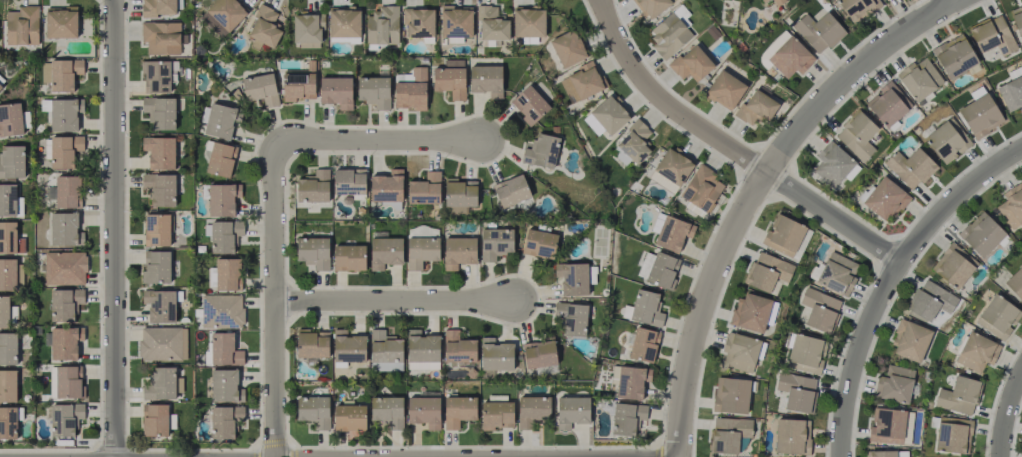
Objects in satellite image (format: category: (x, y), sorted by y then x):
building: (762, 0)
building: (885, 0)
building: (778, 2)
building: (157, 7)
building: (652, 7)
building: (858, 8)
building: (225, 14)
building: (1017, 20)
building: (61, 22)
building: (344, 22)
building: (418, 22)
building: (528, 22)
building: (456, 24)
building: (491, 24)
building: (22, 26)
building: (382, 26)
building: (264, 28)
building: (307, 30)
building: (818, 31)
building: (669, 35)
building: (992, 35)
building: (161, 37)
building: (568, 48)
building: (771, 49)
building: (954, 56)
building: (791, 58)
building: (691, 64)
building: (61, 73)
building: (156, 77)
building: (450, 78)
building: (919, 78)
building: (486, 80)
building: (581, 82)
building: (0, 86)
building: (298, 86)
building: (260, 89)
building: (410, 89)
building: (725, 89)
building: (374, 91)
building: (336, 92)
building: (1011, 93)
building: (529, 104)
building: (887, 105)
building: (756, 107)
building: (159, 112)
building: (65, 114)
building: (980, 115)
building: (606, 116)
building: (10, 119)
building: (219, 121)
building: (857, 135)
road: (376, 140)
building: (946, 142)
building: (631, 145)
road: (731, 148)
building: (64, 150)
building: (541, 151)
building: (159, 152)
building: (221, 159)
building: (12, 162)
building: (832, 164)
building: (910, 167)
building: (670, 170)
building: (349, 181)
building: (386, 186)
building: (313, 187)
building: (160, 188)
building: (701, 188)
building: (424, 189)
building: (511, 190)
building: (68, 191)
road: (752, 191)
building: (460, 194)
building: (222, 199)
building: (885, 199)
building: (7, 200)
building: (1012, 206)
road: (114, 228)
building: (65, 229)
building: (157, 230)
building: (671, 232)
building: (981, 234)
building: (224, 235)
building: (783, 235)
building: (10, 239)
building: (496, 243)
building: (539, 244)
building: (421, 251)
building: (313, 252)
building: (385, 252)
building: (458, 252)
building: (349, 258)
building: (953, 266)
building: (156, 267)
building: (65, 268)
building: (662, 270)
building: (768, 273)
building: (7, 274)
building: (228, 274)
building: (838, 274)
building: (572, 278)
road: (891, 279)
building: (1015, 283)
road: (274, 299)
road: (391, 300)
building: (930, 301)
building: (65, 304)
building: (160, 305)
building: (646, 308)
building: (819, 310)
building: (4, 311)
building: (222, 311)
building: (750, 312)
building: (998, 316)
building: (572, 318)
building: (910, 341)
building: (65, 342)
building: (163, 343)
building: (312, 344)
building: (643, 344)
building: (8, 348)
building: (348, 348)
building: (458, 348)
building: (224, 350)
building: (385, 351)
building: (422, 351)
building: (740, 351)
building: (806, 352)
building: (977, 352)
building: (539, 353)
building: (496, 355)
building: (629, 381)
building: (65, 382)
building: (160, 384)
building: (895, 384)
building: (7, 385)
building: (225, 386)
building: (796, 391)
building: (731, 395)
building: (958, 395)
building: (314, 411)
building: (387, 411)
building: (424, 411)
building: (458, 411)
building: (532, 411)
building: (572, 411)
road: (1005, 412)
building: (496, 415)
building: (349, 417)
building: (65, 418)
building: (627, 418)
building: (154, 420)
building: (224, 421)
building: (8, 422)
building: (887, 426)
building: (728, 434)
building: (952, 434)
building: (792, 436)
building: (888, 453)

